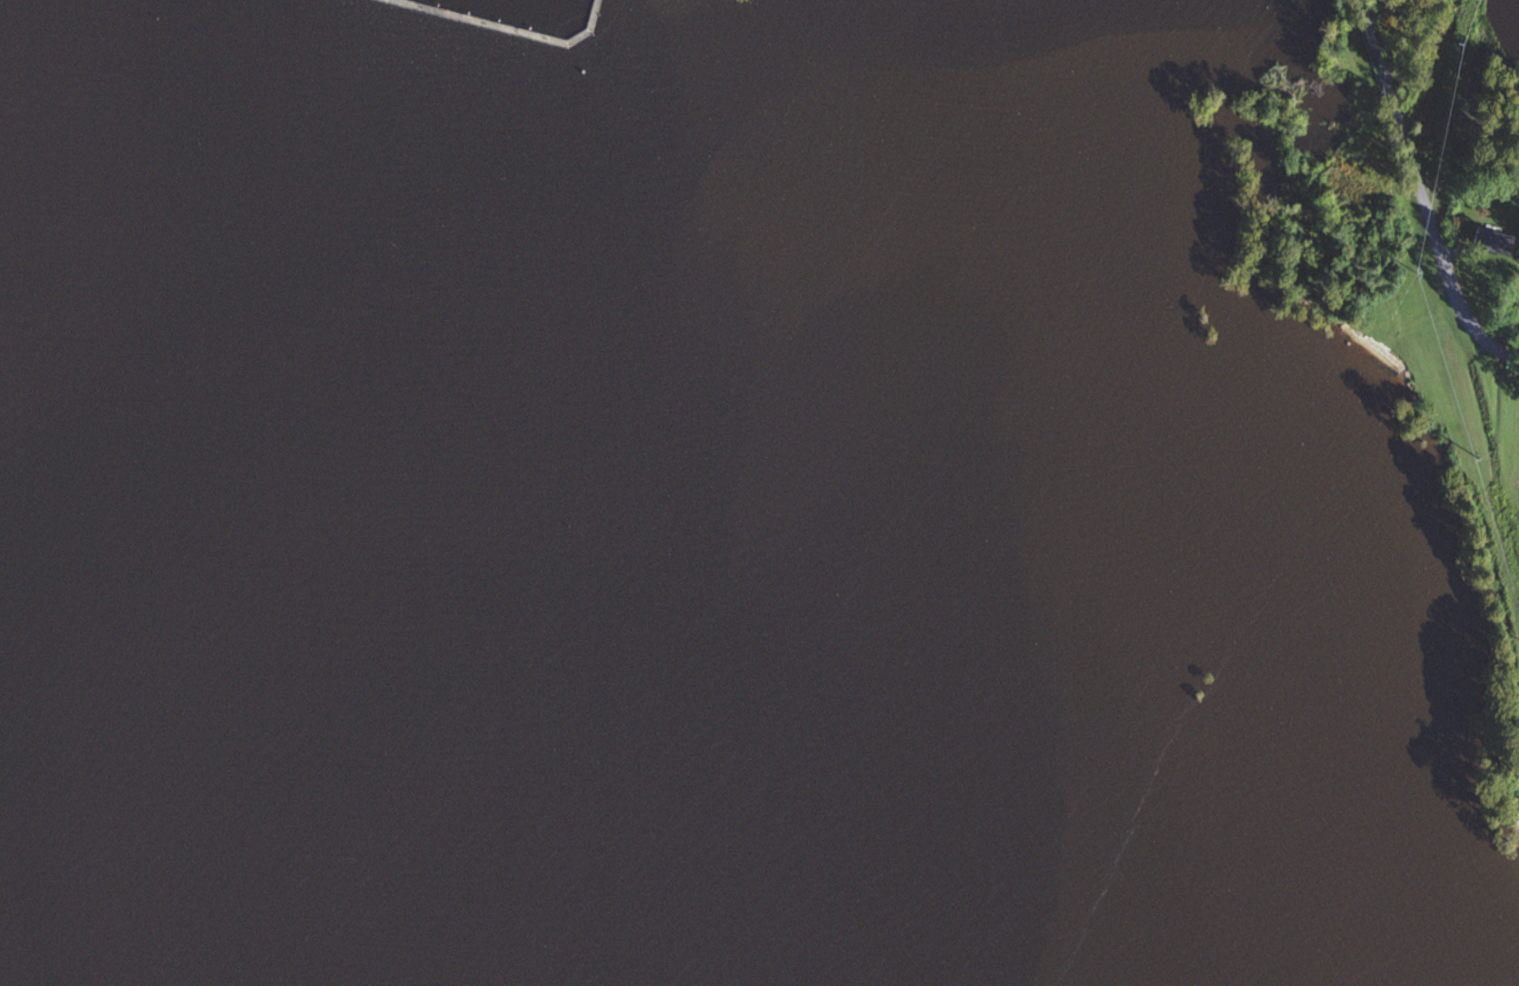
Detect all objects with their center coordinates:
pier: (507, 28)
road: (1422, 193)
building: (1496, 241)

